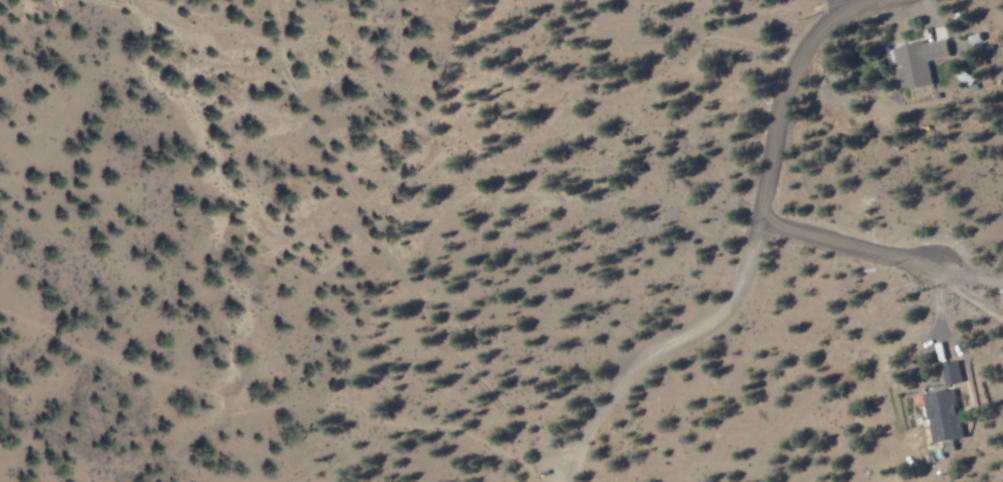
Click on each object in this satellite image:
building: (920, 60)
road: (855, 246)
road: (750, 251)
building: (946, 404)

